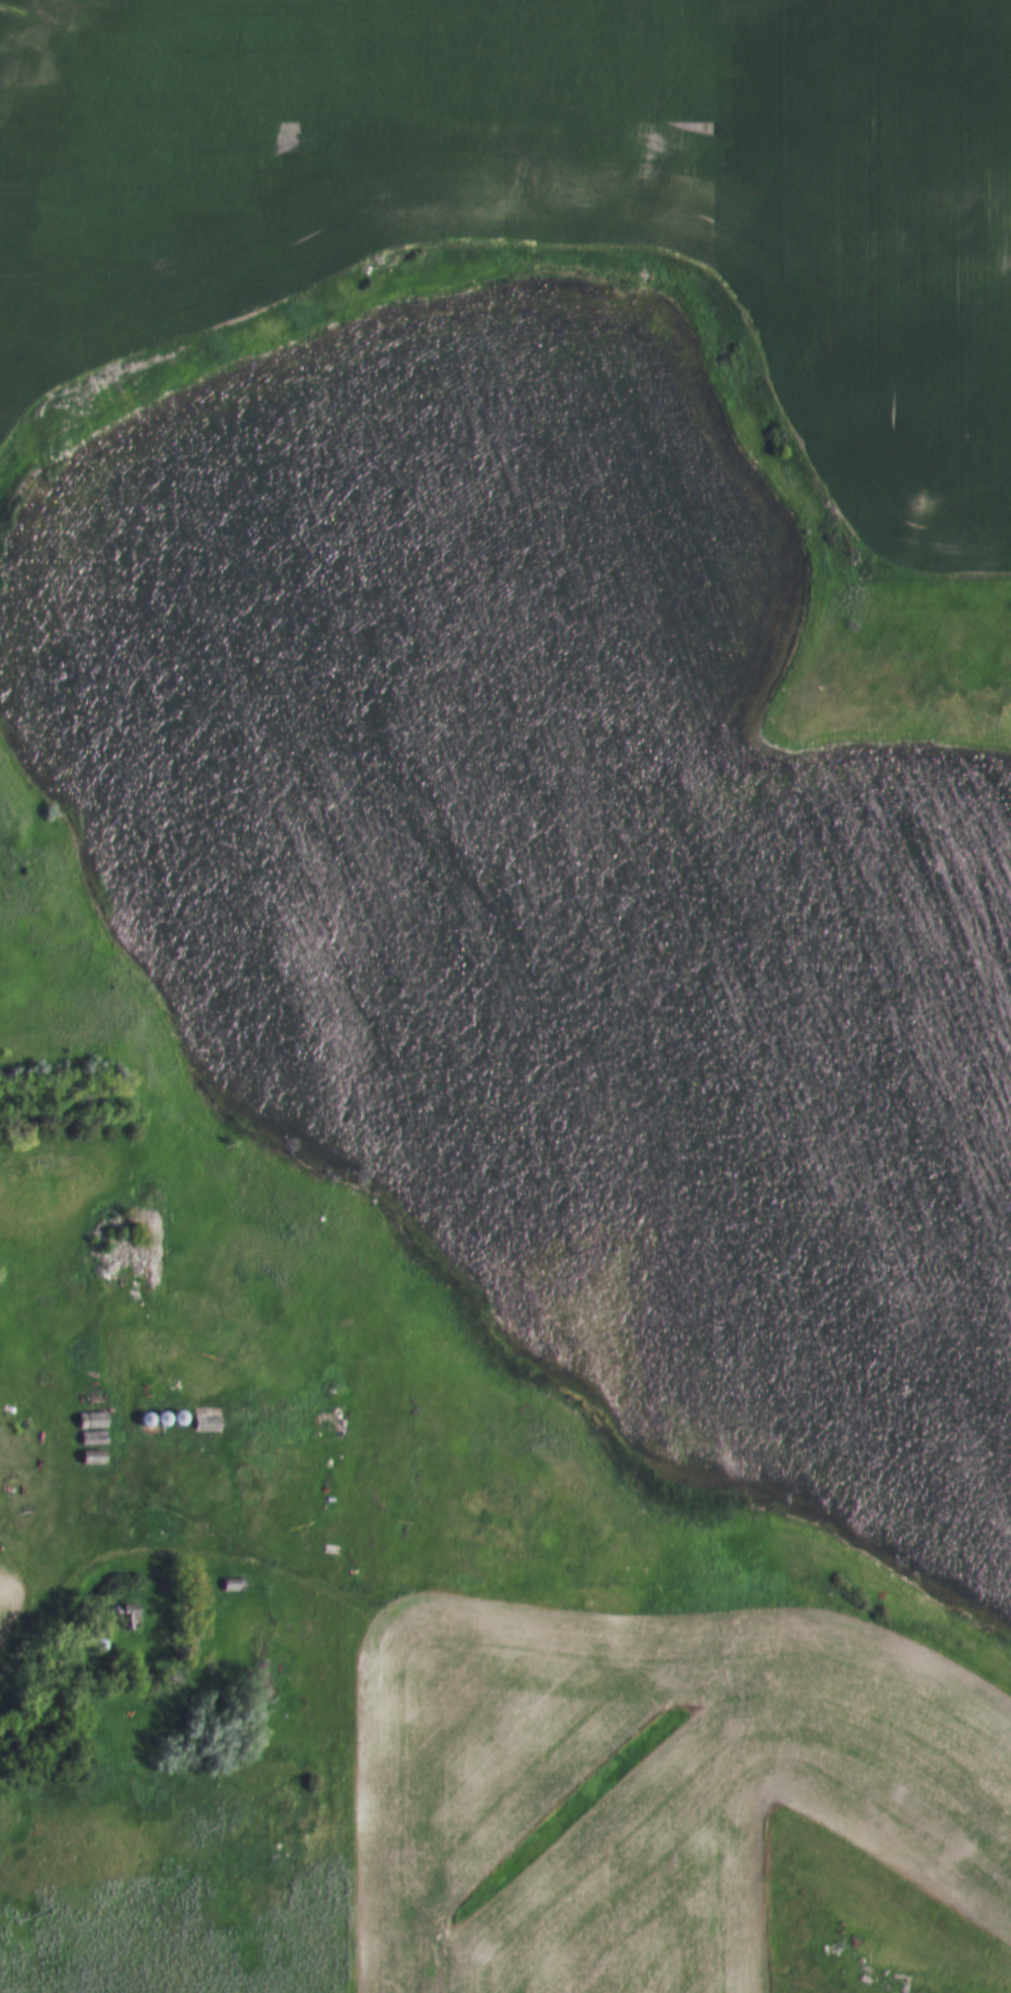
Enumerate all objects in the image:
building: (236, 1588)
road: (488, 1592)

